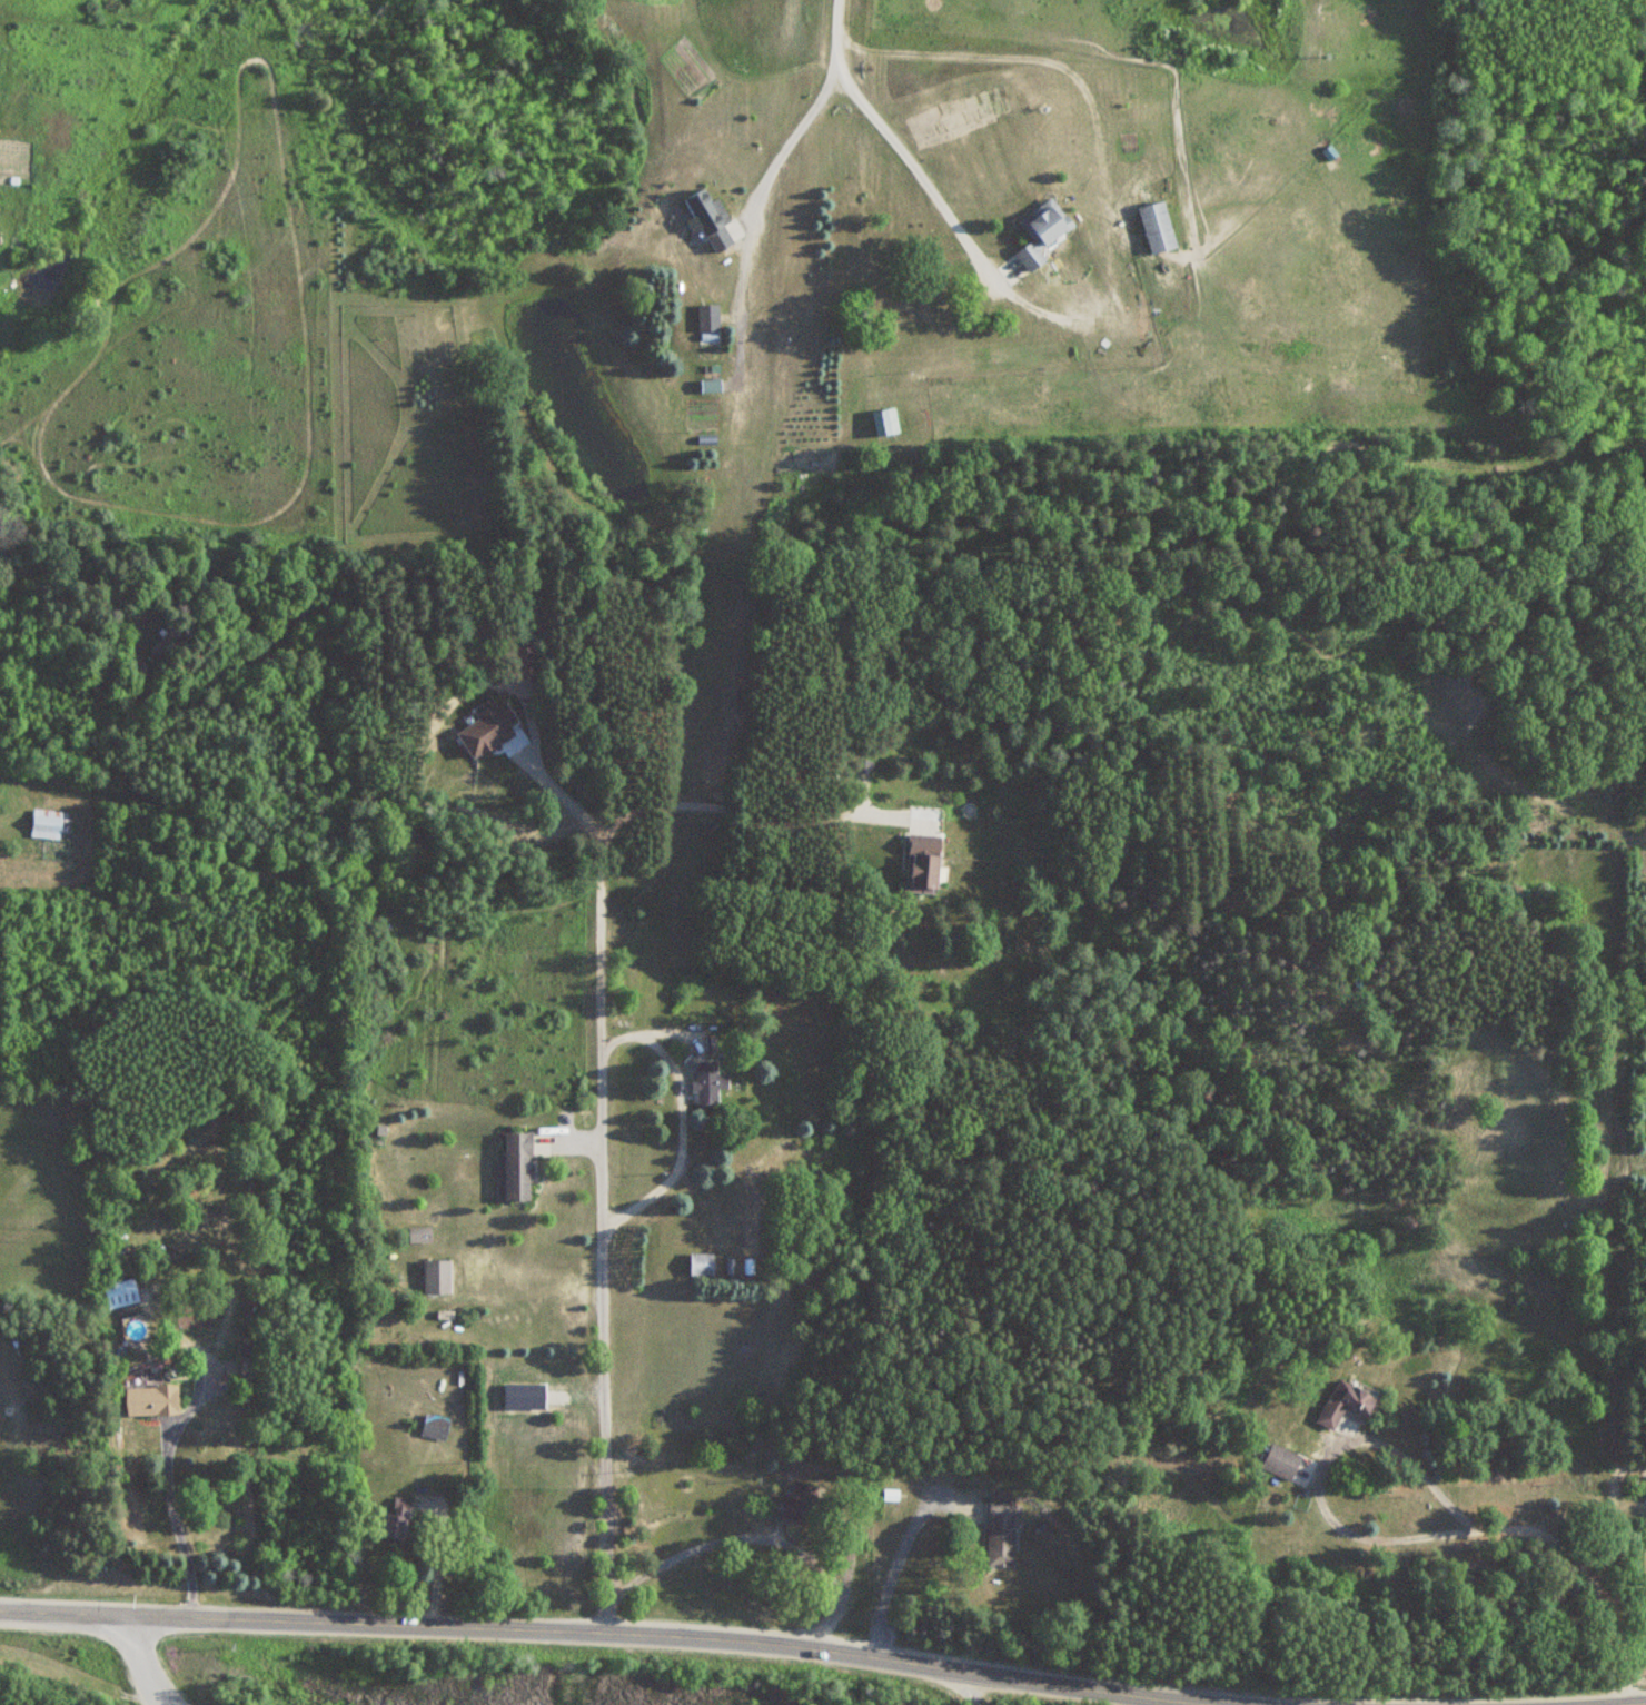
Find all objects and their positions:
road: (803, 113)
road: (910, 165)
building: (708, 218)
building: (1157, 228)
building: (1042, 232)
building: (707, 318)
building: (46, 824)
building: (922, 864)
building: (707, 1084)
building: (514, 1169)
building: (418, 1235)
building: (701, 1265)
building: (436, 1277)
building: (120, 1295)
building: (151, 1402)
building: (1346, 1405)
building: (434, 1428)
building: (1280, 1464)
building: (1645, 1489)
building: (797, 1504)
building: (397, 1520)
building: (1000, 1528)
road: (621, 1633)
road: (138, 1663)
road: (1606, 1701)

